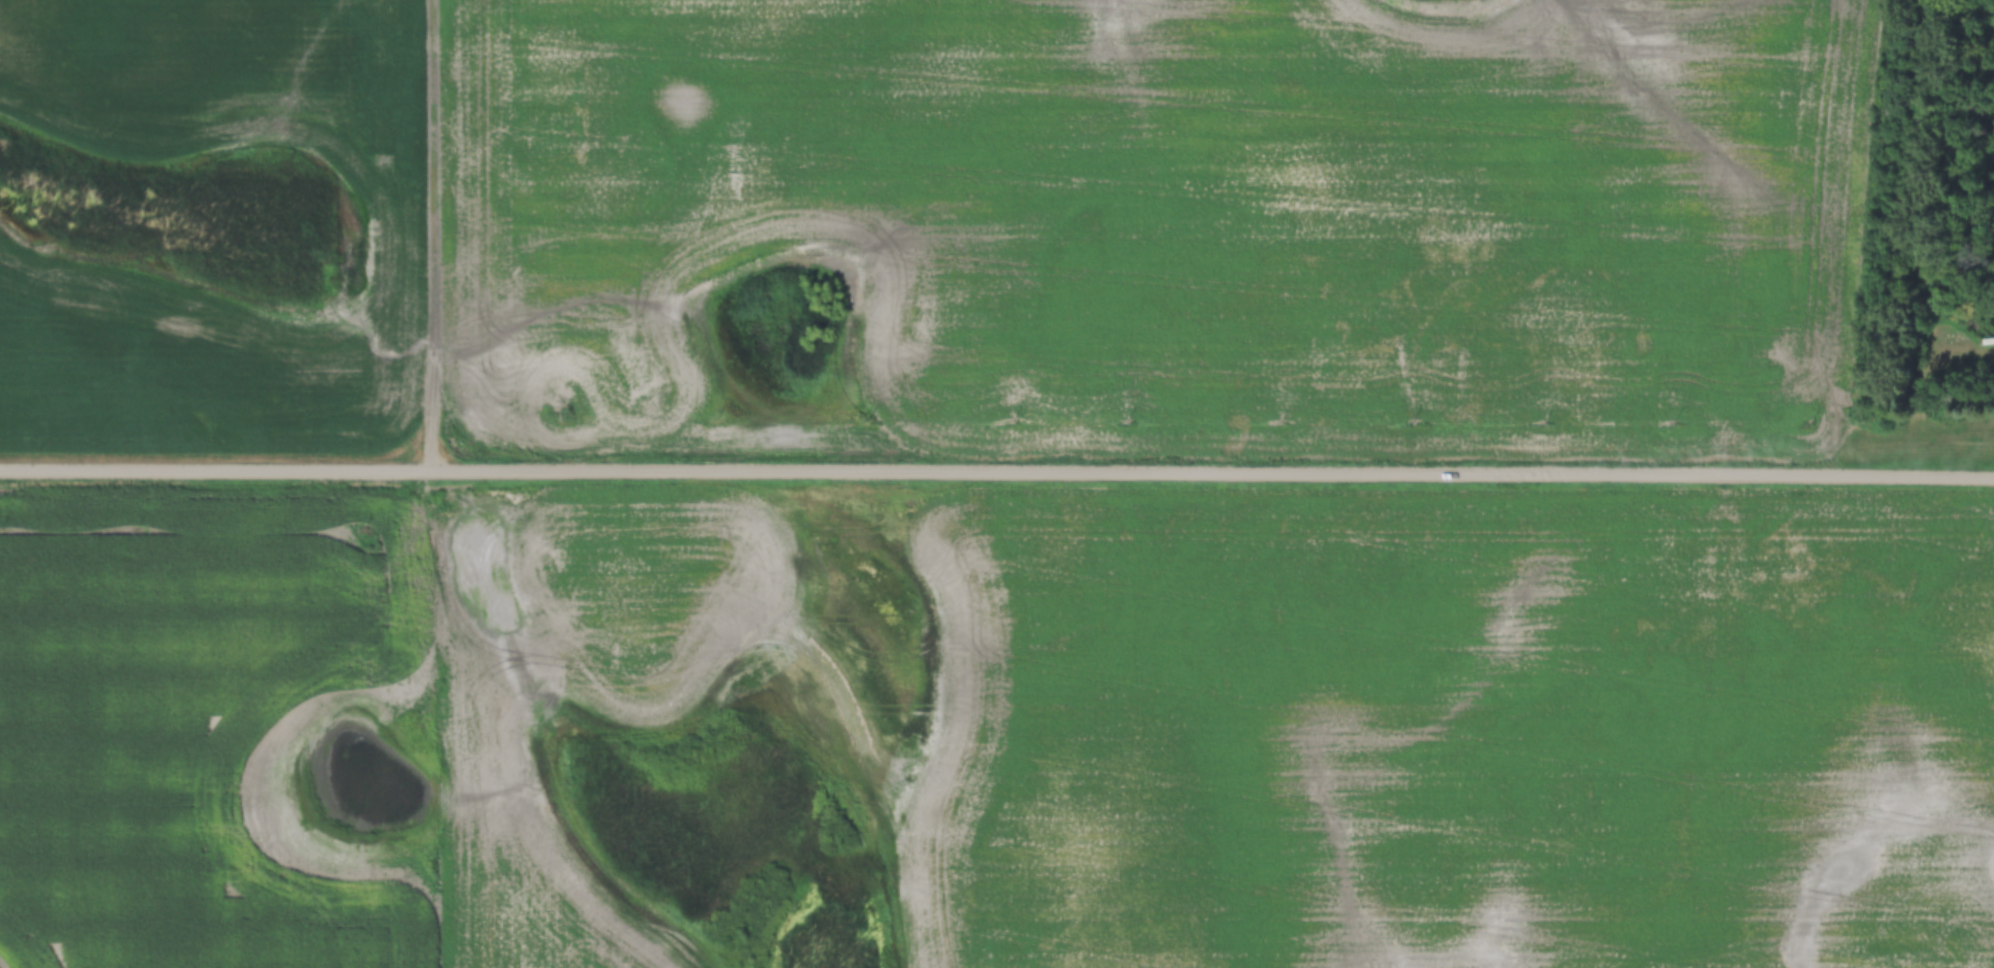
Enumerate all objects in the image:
road: (432, 234)
road: (997, 472)

